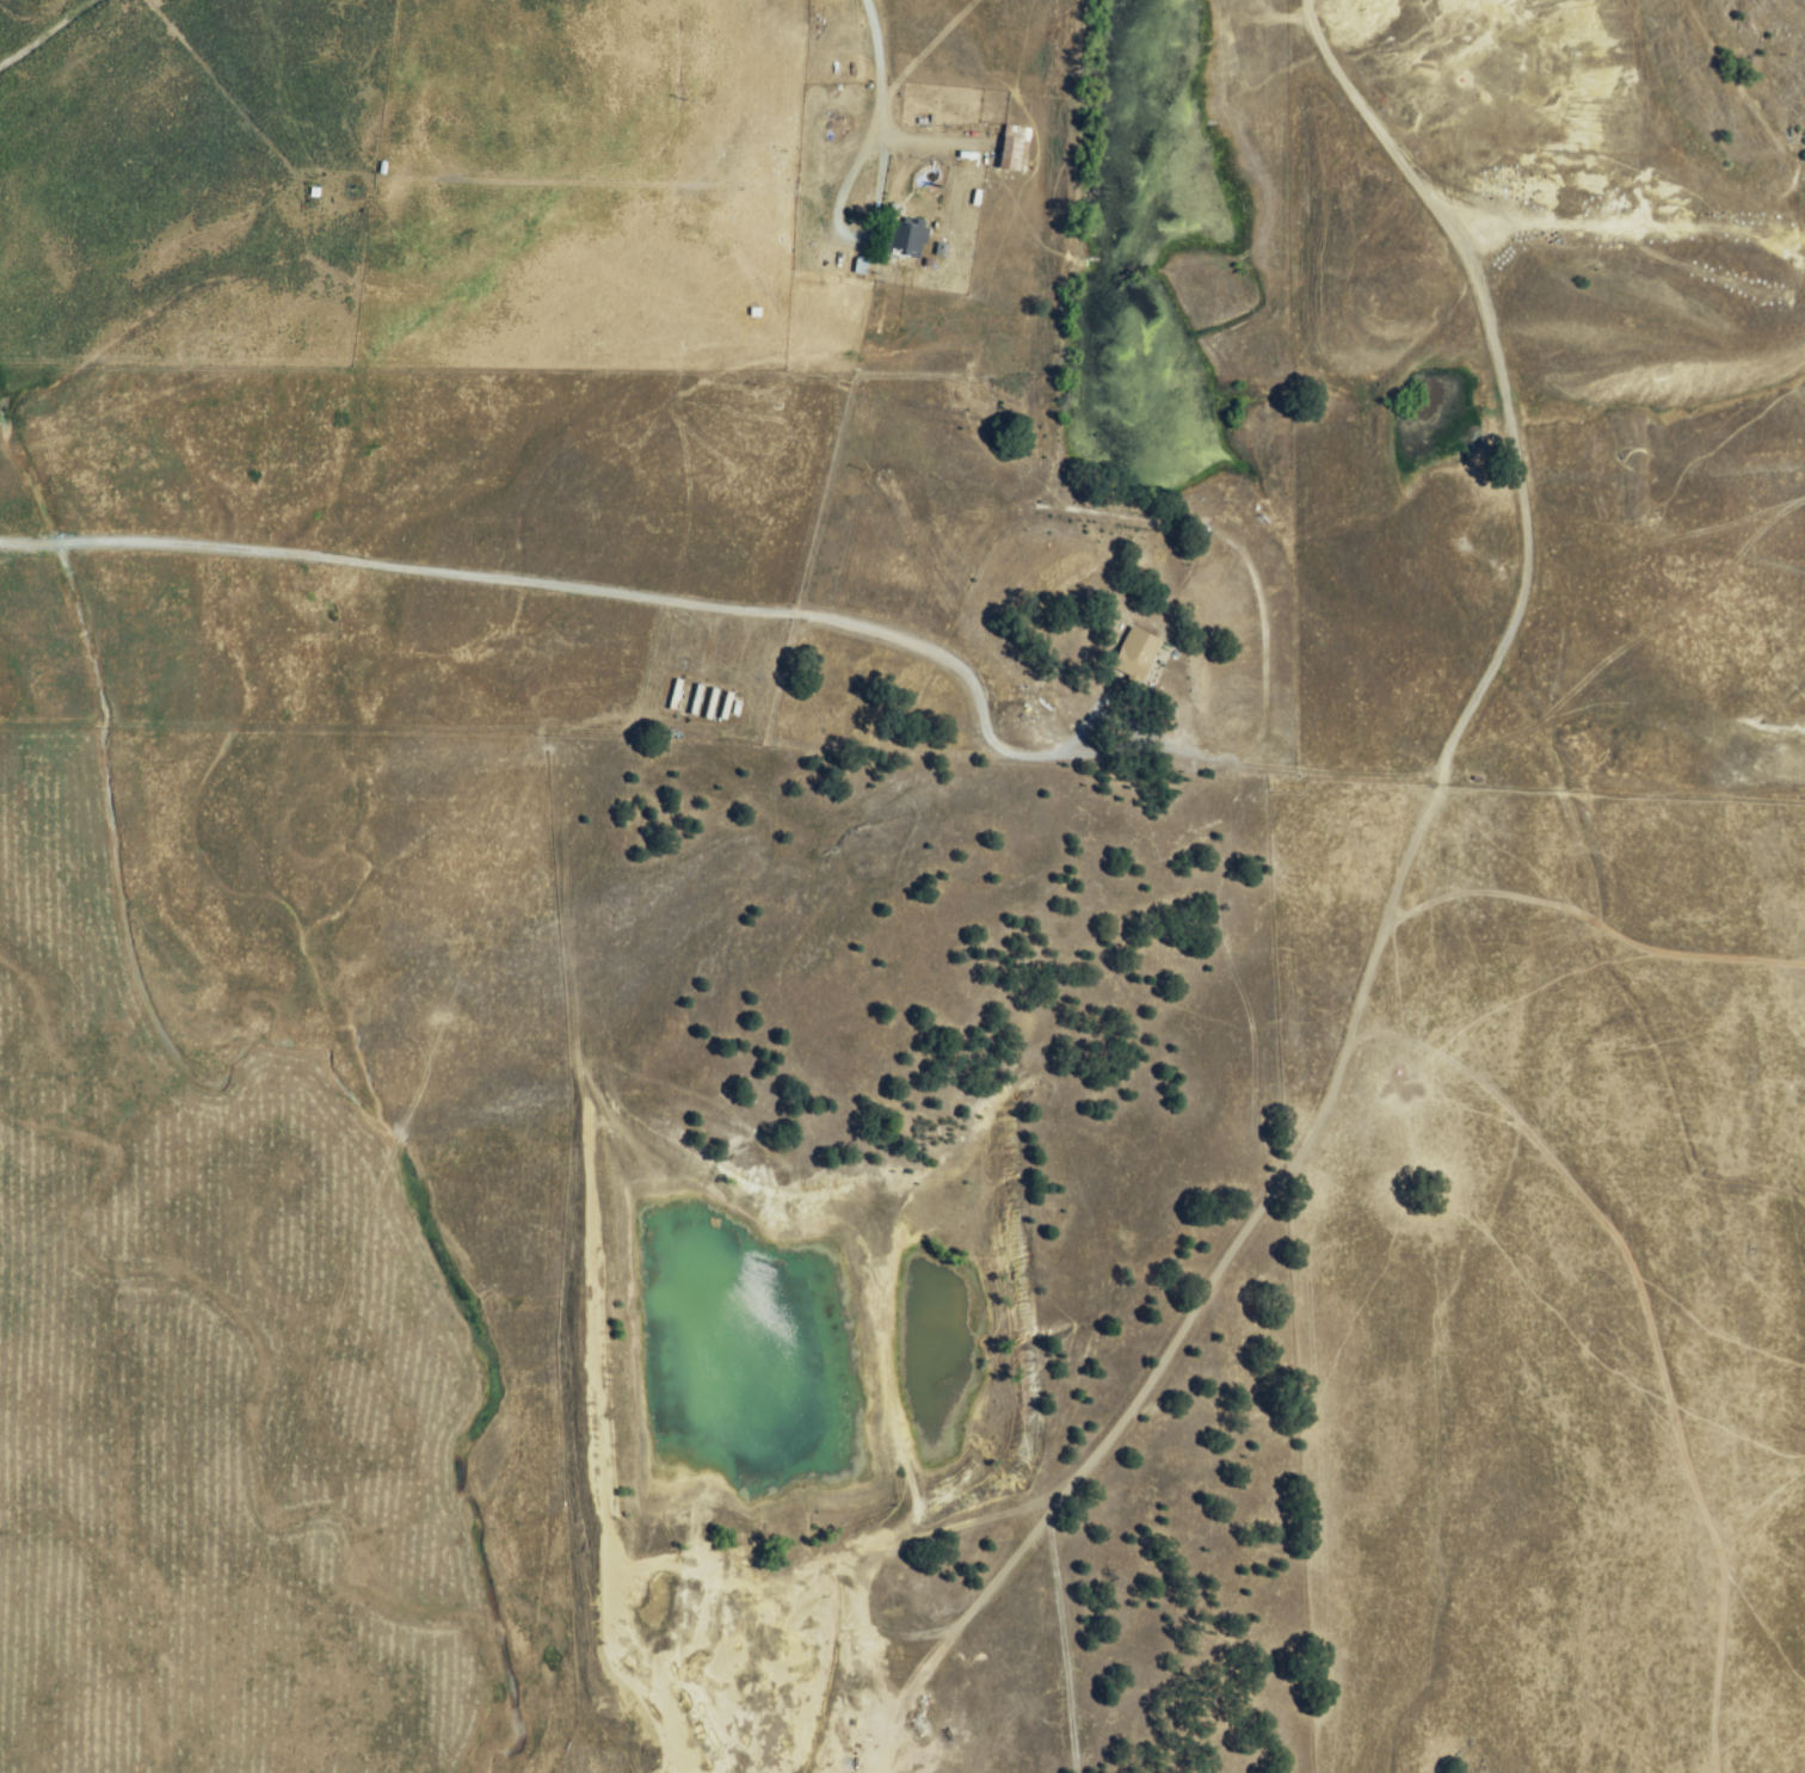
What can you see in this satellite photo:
road: (873, 64)
building: (1015, 149)
road: (848, 239)
building: (905, 239)
road: (563, 587)
building: (1135, 655)
road: (1123, 716)

